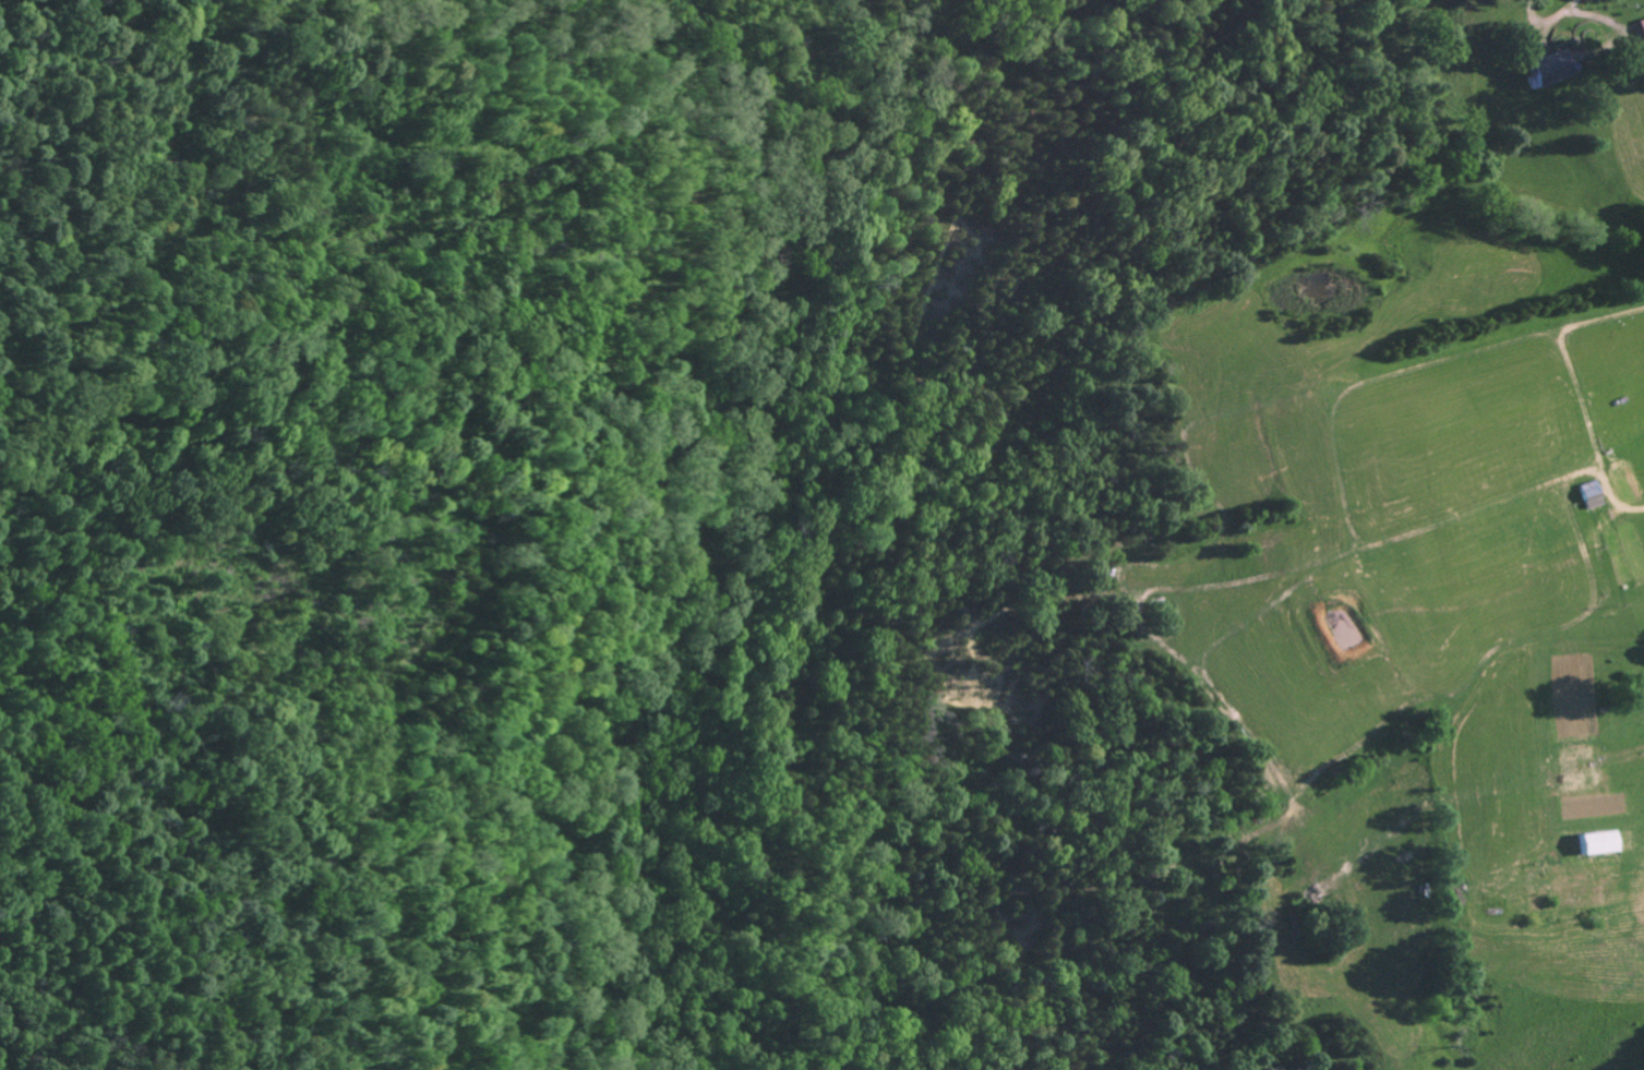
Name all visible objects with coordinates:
building: (1641, 25)
building: (1557, 65)
building: (1600, 842)

